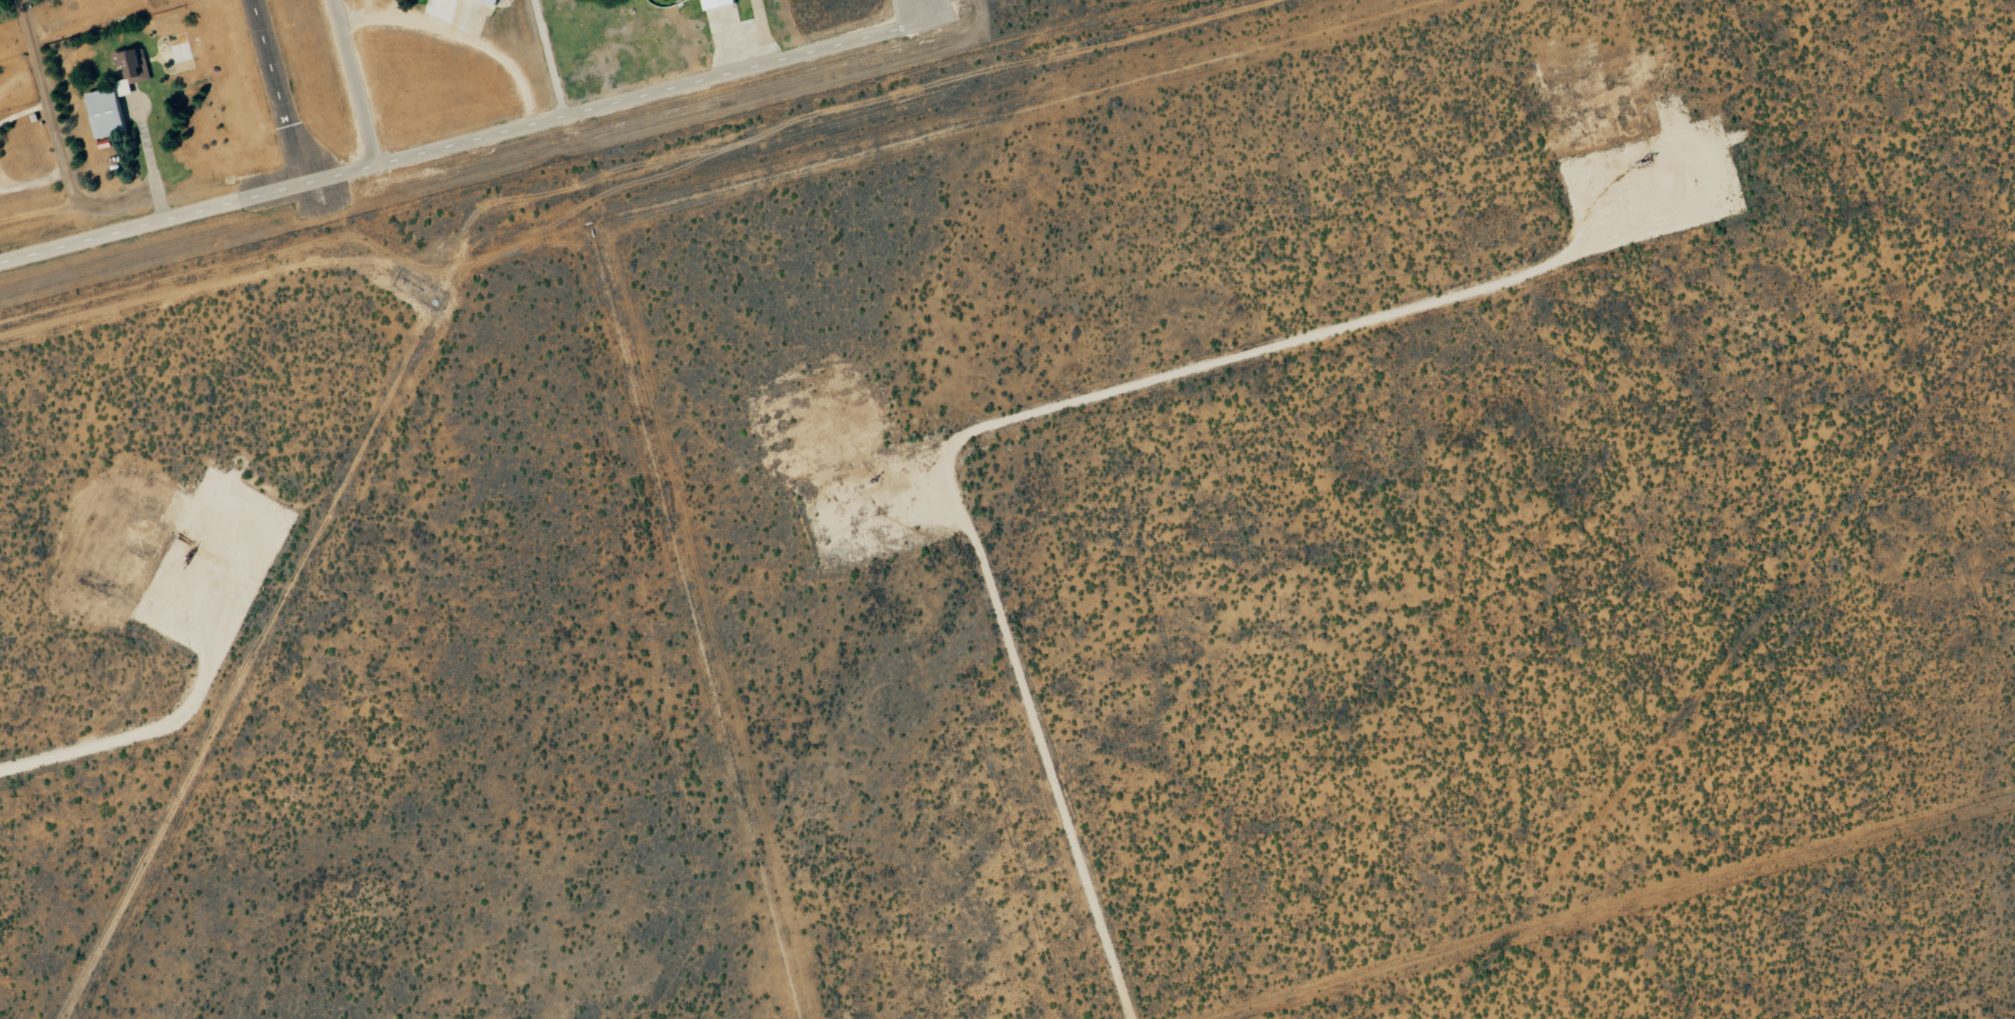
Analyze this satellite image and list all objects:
building: (446, 0)
building: (492, 1)
building: (716, 3)
airport runway: (262, 57)
airport: (390, 57)
road: (547, 59)
building: (116, 95)
road: (48, 115)
road: (428, 152)

